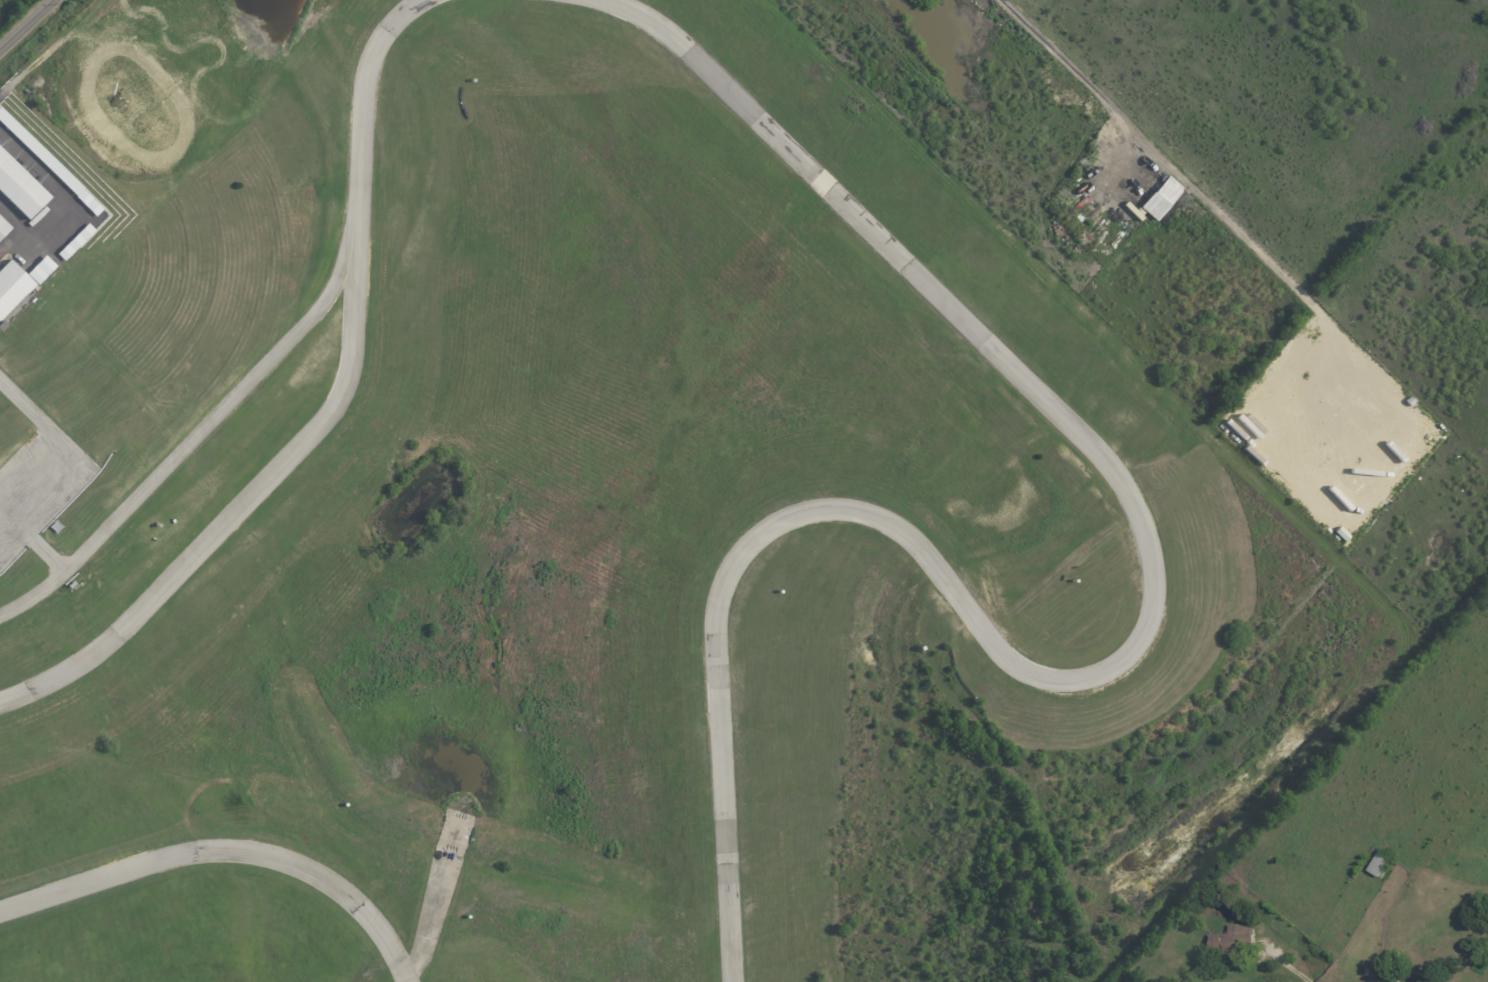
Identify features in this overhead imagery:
road: (27, 25)
road: (1076, 75)
building: (49, 164)
building: (19, 187)
building: (1162, 197)
building: (3, 227)
building: (75, 241)
parking lot: (4, 245)
building: (41, 269)
building: (10, 286)
road: (20, 402)
raceway: (330, 412)
raceway: (190, 441)
parking lot: (37, 484)
parking lot: (21, 500)
raceway: (47, 557)
raceway: (1121, 658)
raceway: (224, 851)
building: (1234, 939)
building: (1392, 981)

